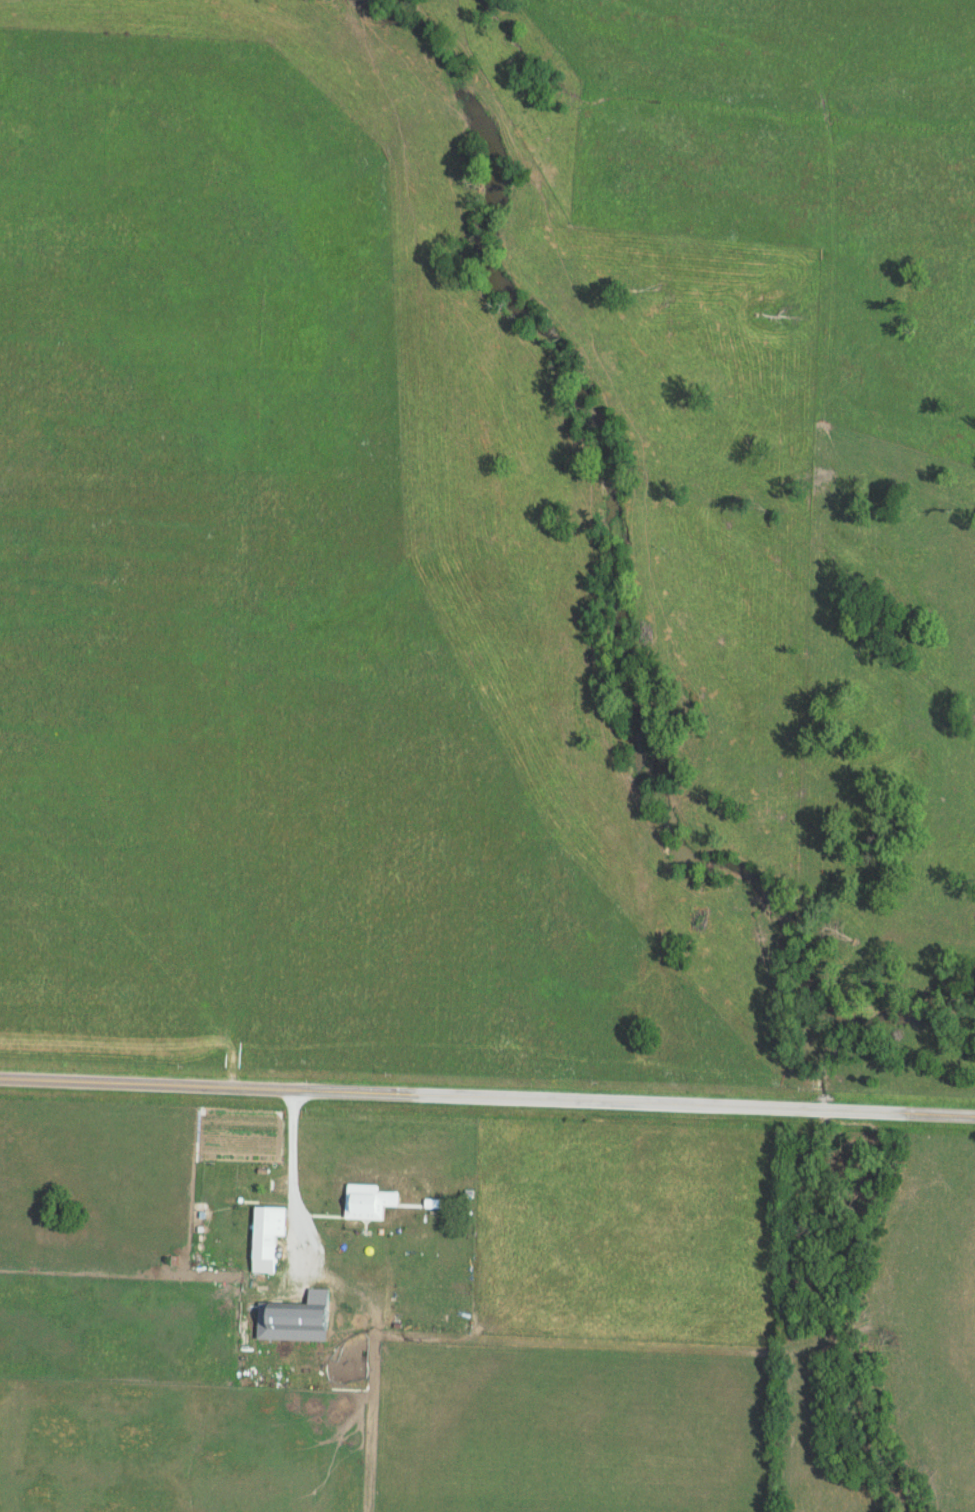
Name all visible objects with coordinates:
road: (487, 1092)
building: (266, 1234)

